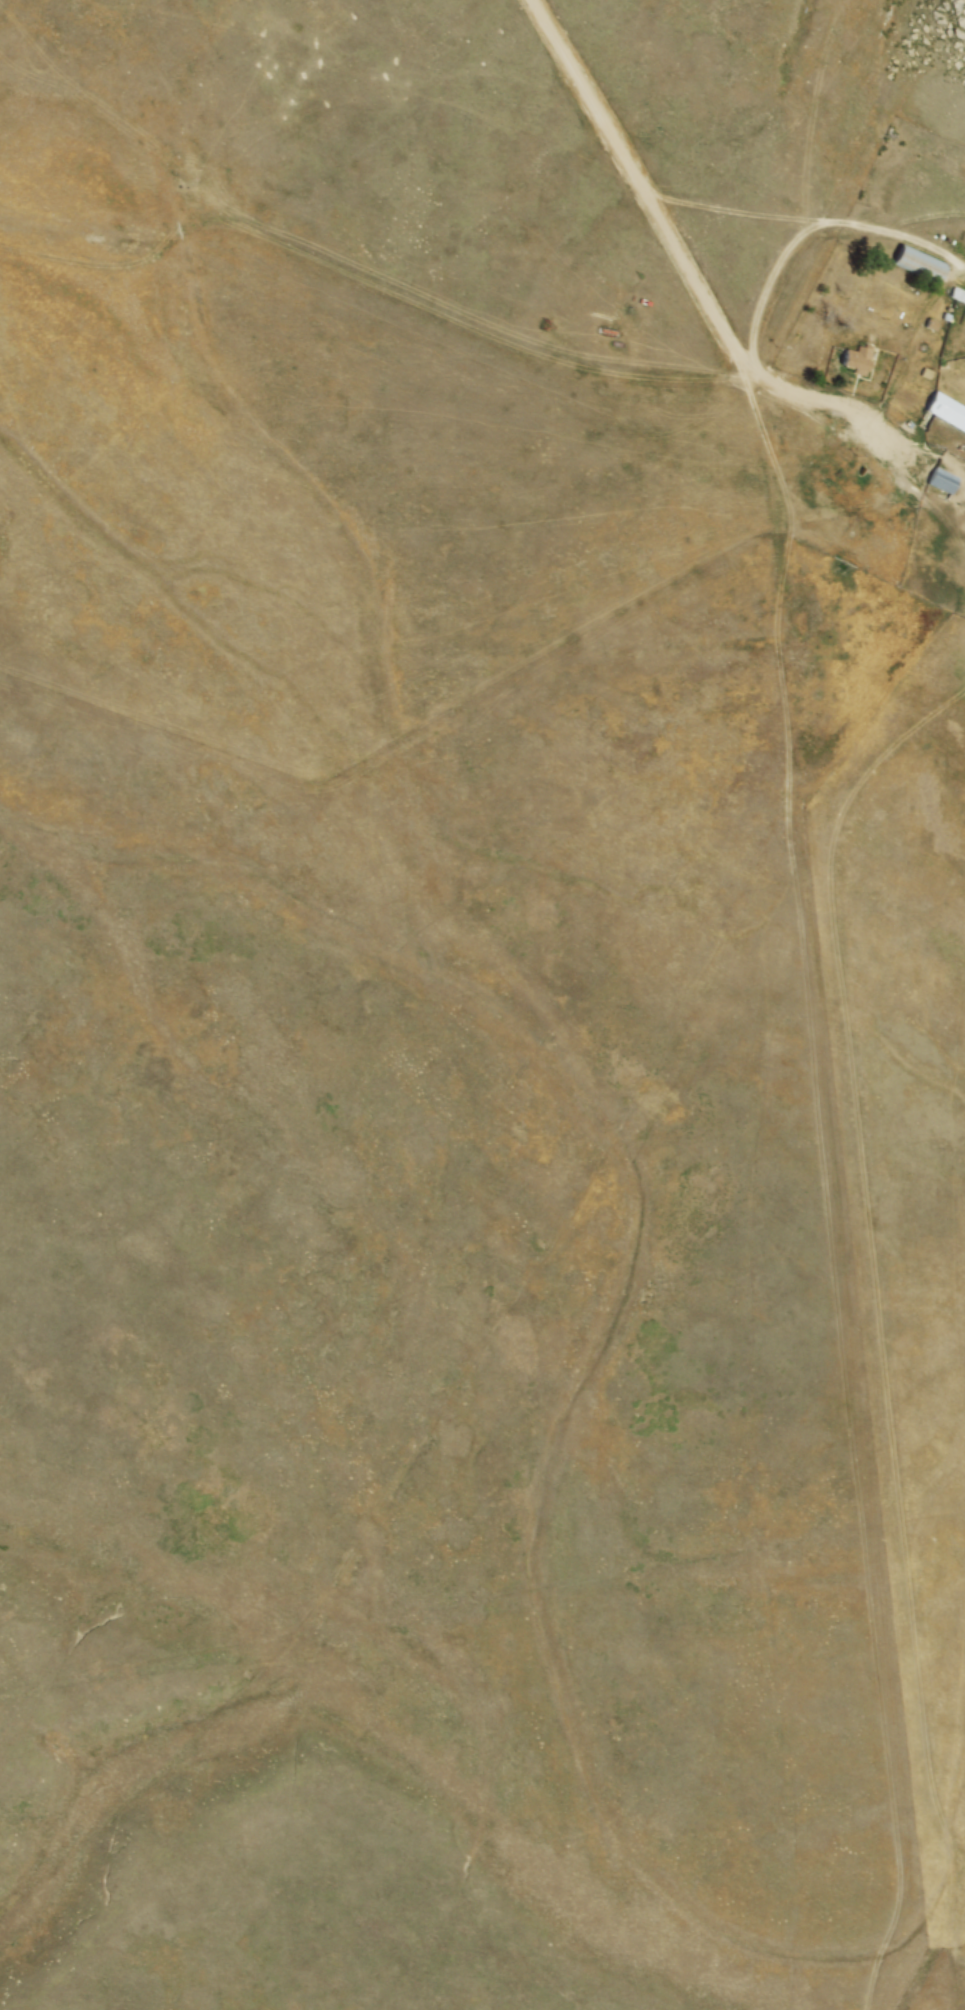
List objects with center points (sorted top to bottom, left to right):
road: (754, 212)
road: (813, 228)
road: (689, 258)
building: (925, 260)
building: (961, 292)
building: (864, 360)
building: (949, 409)
building: (949, 481)

